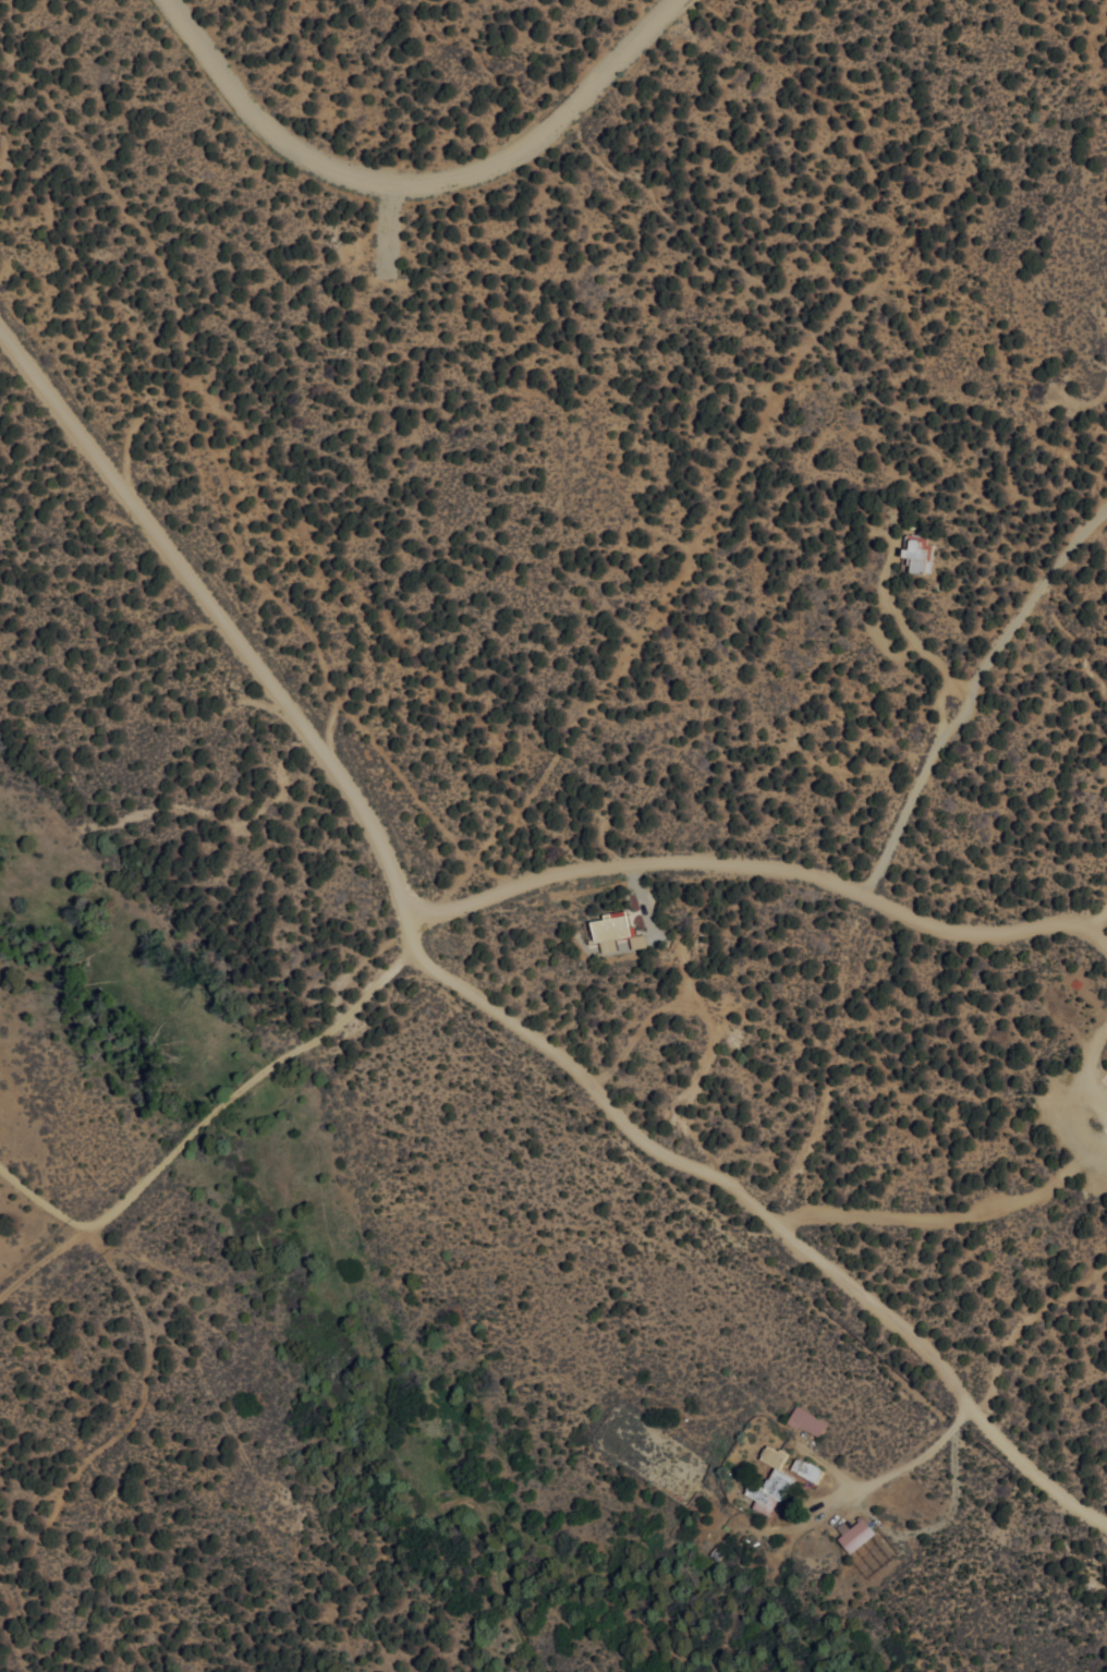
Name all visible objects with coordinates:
road: (410, 180)
building: (916, 553)
road: (217, 619)
road: (752, 865)
building: (615, 930)
road: (202, 1114)
road: (759, 1210)
road: (947, 1214)
building: (805, 1420)
building: (803, 1468)
building: (768, 1482)
building: (852, 1534)

